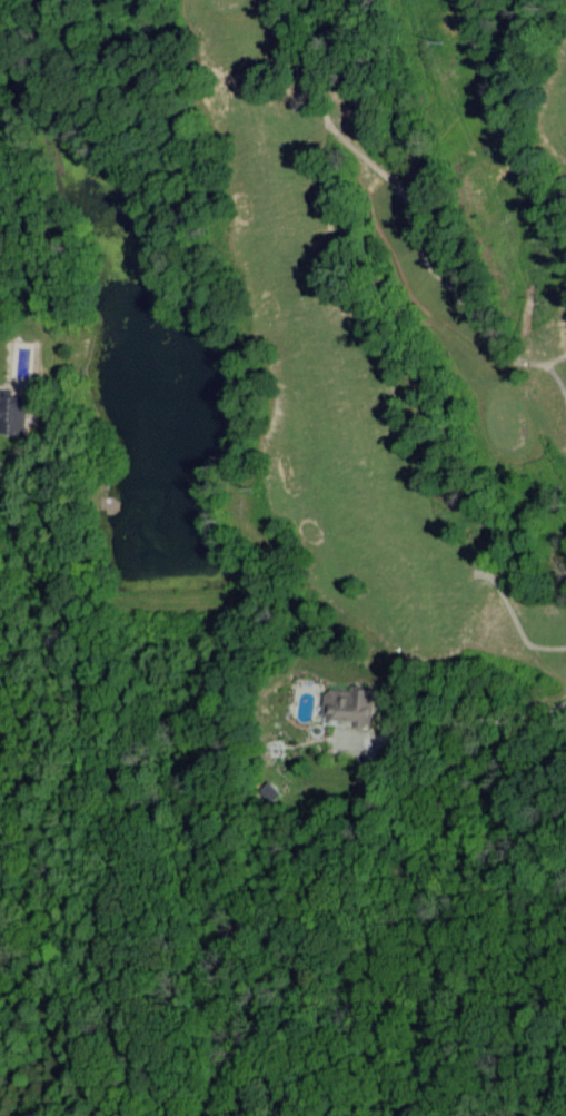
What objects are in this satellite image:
road: (284, 21)
road: (410, 226)
park: (373, 318)
road: (556, 381)
road: (510, 621)
building: (356, 705)
road: (459, 721)

